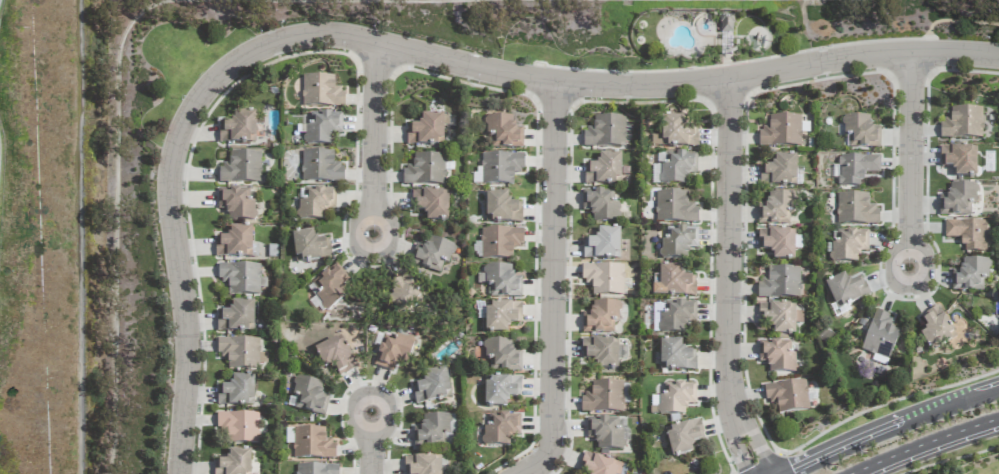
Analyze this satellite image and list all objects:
building: (726, 24)
park: (754, 35)
road: (401, 50)
building: (321, 92)
building: (962, 124)
building: (320, 128)
building: (238, 129)
building: (427, 130)
road: (376, 131)
building: (503, 132)
building: (606, 132)
building: (781, 132)
building: (861, 132)
building: (675, 134)
road: (912, 151)
building: (959, 160)
building: (320, 167)
building: (241, 168)
building: (501, 168)
building: (677, 168)
building: (855, 169)
building: (425, 170)
building: (779, 172)
building: (958, 200)
building: (316, 203)
building: (236, 204)
building: (431, 204)
building: (601, 206)
building: (674, 208)
building: (501, 209)
building: (776, 209)
building: (856, 210)
road: (355, 233)
park: (52, 234)
road: (389, 234)
building: (968, 234)
building: (234, 243)
building: (497, 243)
building: (778, 243)
building: (602, 245)
road: (728, 245)
building: (848, 246)
building: (309, 247)
building: (433, 255)
road: (891, 267)
road: (928, 267)
building: (970, 275)
building: (240, 278)
building: (604, 279)
building: (502, 282)
building: (673, 282)
building: (780, 283)
road: (555, 285)
building: (331, 286)
building: (846, 290)
building: (403, 294)
building: (675, 316)
building: (236, 317)
building: (501, 317)
building: (601, 318)
building: (779, 318)
building: (935, 325)
building: (880, 335)
building: (393, 351)
building: (601, 352)
building: (239, 353)
building: (335, 356)
building: (502, 356)
building: (676, 356)
building: (777, 356)
building: (432, 387)
building: (501, 390)
building: (237, 392)
building: (309, 396)
building: (788, 396)
building: (603, 397)
building: (673, 399)
road: (952, 407)
road: (352, 414)
road: (388, 414)
building: (238, 427)
building: (500, 429)
building: (433, 431)
building: (605, 433)
road: (884, 433)
building: (683, 437)
road: (755, 438)
road: (736, 442)
building: (310, 443)
road: (926, 444)
road: (370, 453)
road: (829, 458)
building: (234, 463)
building: (422, 465)
building: (597, 465)
building: (316, 469)

